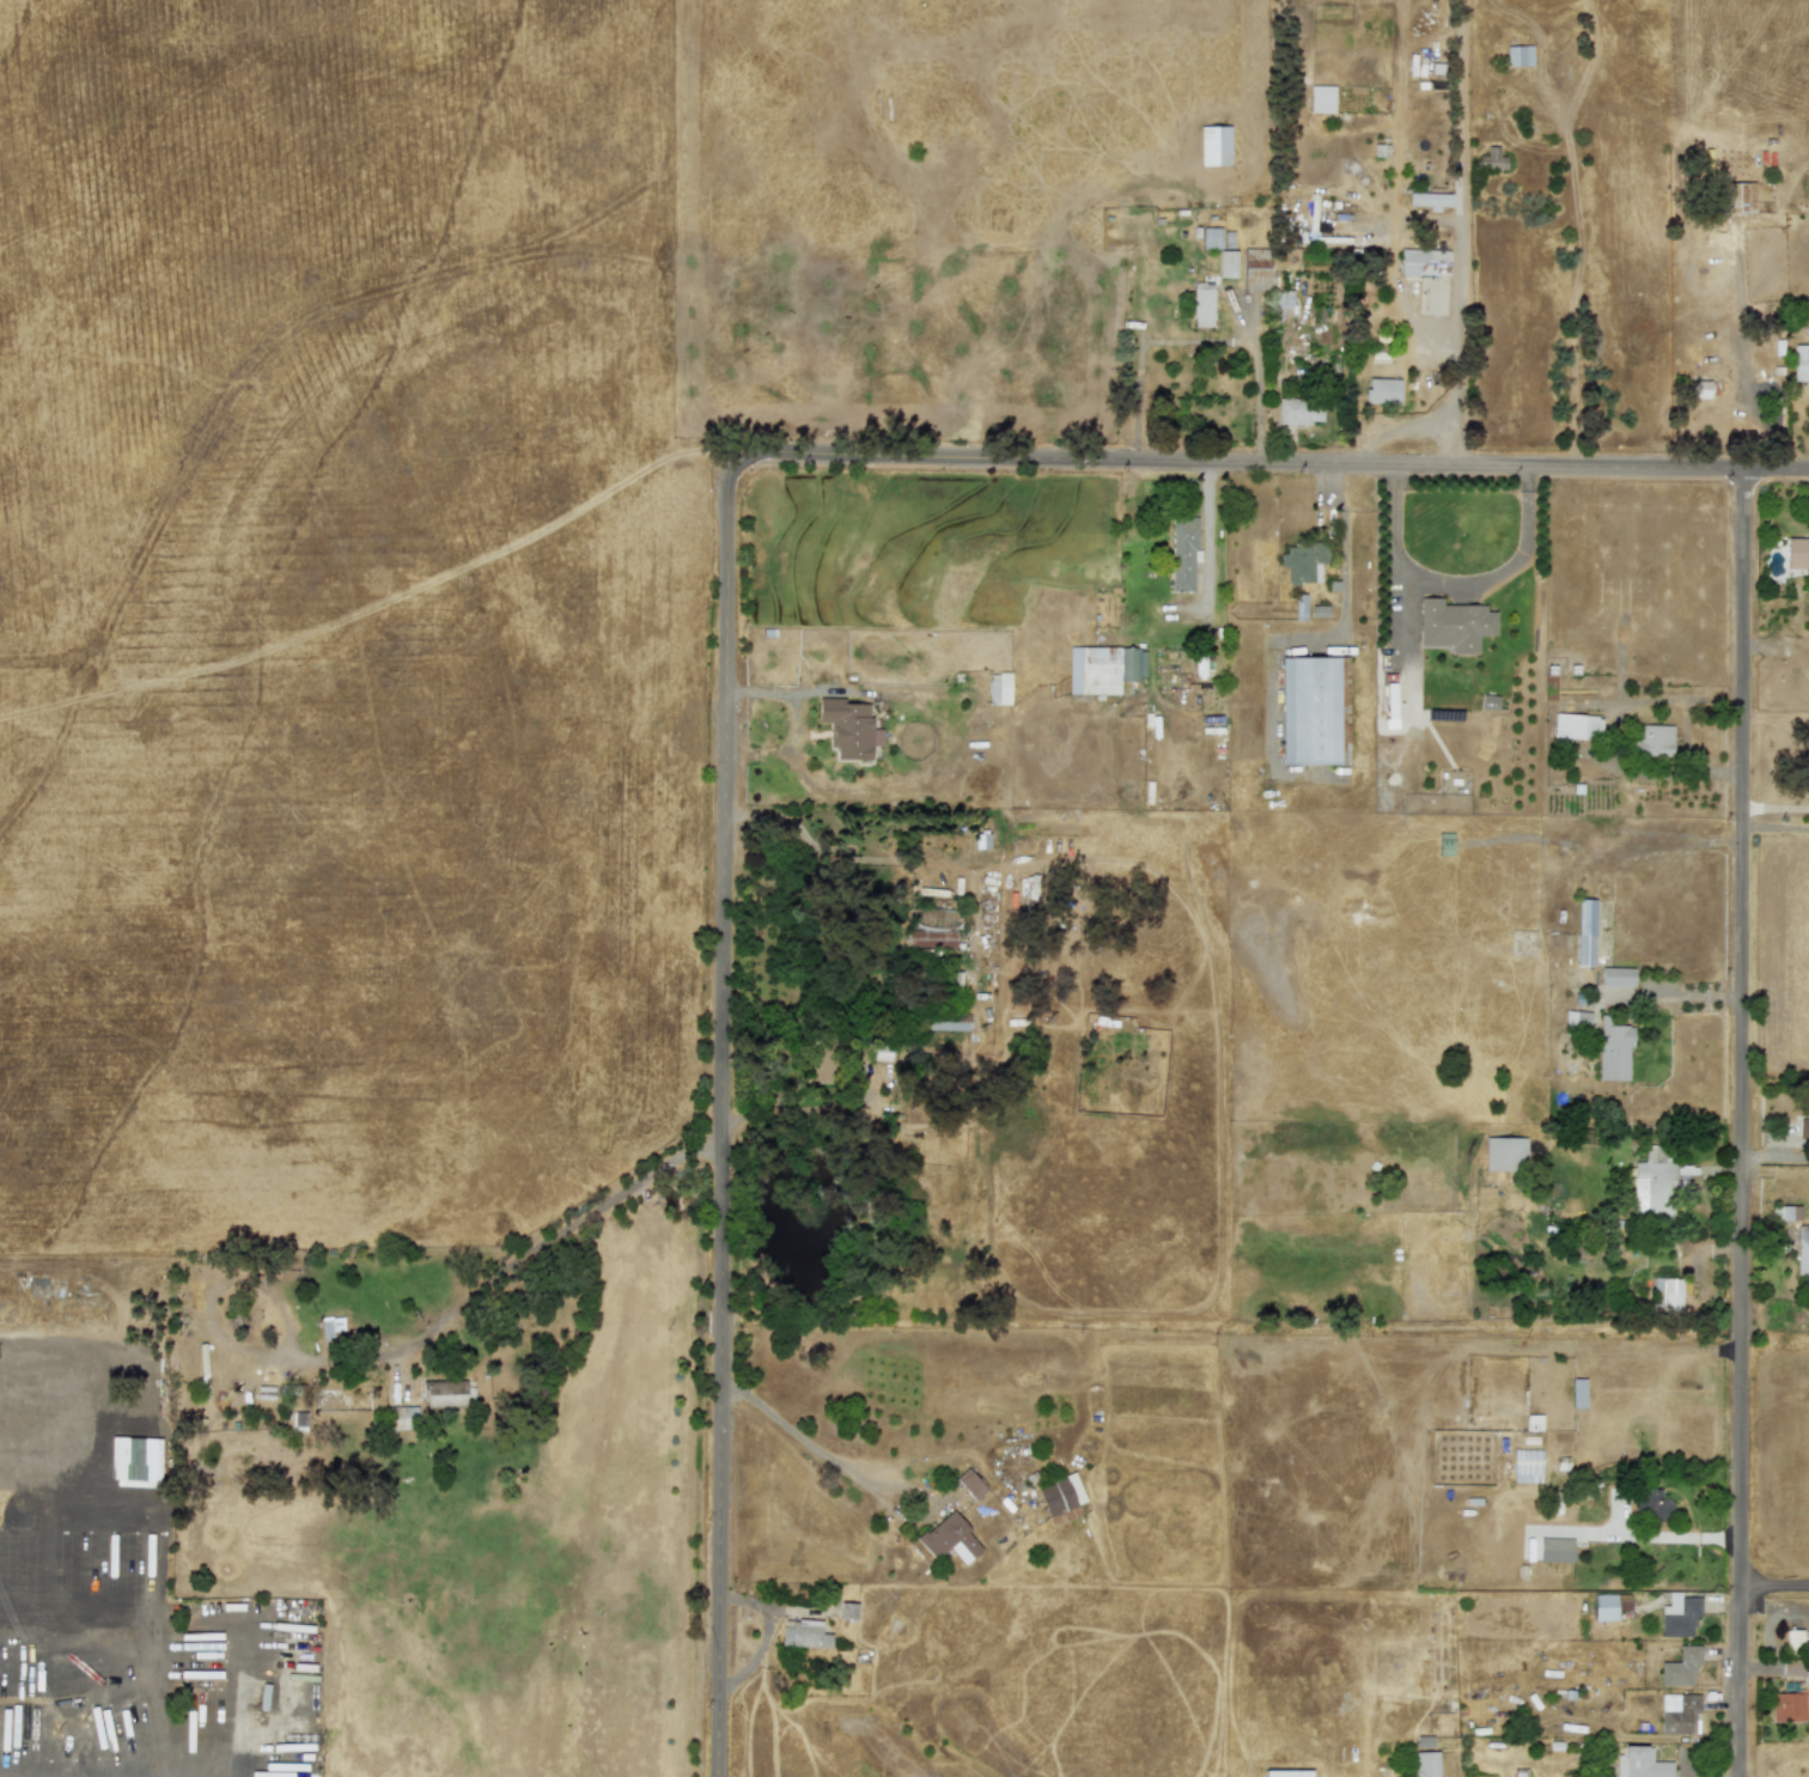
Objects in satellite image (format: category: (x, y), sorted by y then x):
building: (1518, 56)
building: (1322, 99)
building: (1214, 145)
building: (1492, 159)
building: (1737, 197)
building: (1430, 200)
building: (1211, 238)
building: (1424, 262)
building: (1228, 263)
building: (1255, 268)
building: (1281, 303)
building: (1202, 304)
road: (1457, 333)
building: (1801, 363)
building: (1700, 389)
building: (1382, 390)
road: (1260, 406)
building: (1299, 410)
road: (1267, 463)
road: (1207, 535)
road: (1344, 547)
building: (1797, 553)
building: (1182, 554)
building: (1303, 561)
road: (1456, 583)
building: (1452, 625)
building: (1103, 668)
solar farm: (333, 688)
building: (999, 688)
building: (1314, 711)
building: (1576, 726)
building: (848, 728)
building: (1651, 740)
road: (1777, 805)
road: (1775, 826)
building: (1585, 932)
building: (932, 938)
building: (1616, 976)
building: (1577, 1020)
building: (1613, 1049)
building: (817, 1070)
road: (729, 1124)
road: (1743, 1125)
building: (1803, 1128)
building: (1504, 1154)
road: (1775, 1157)
building: (1652, 1185)
building: (1790, 1212)
building: (1802, 1252)
building: (1667, 1295)
building: (444, 1393)
building: (1577, 1393)
building: (401, 1417)
building: (1470, 1424)
road: (822, 1453)
building: (1527, 1466)
building: (969, 1484)
building: (1061, 1498)
building: (1651, 1505)
building: (950, 1539)
building: (1555, 1550)
road: (1774, 1588)
building: (1609, 1606)
building: (847, 1611)
building: (1680, 1615)
building: (803, 1633)
road: (763, 1636)
building: (1793, 1642)
building: (1681, 1667)
building: (1792, 1668)
building: (1787, 1706)
building: (1679, 1714)
building: (1640, 1763)
building: (1426, 1764)
building: (1287, 1773)

